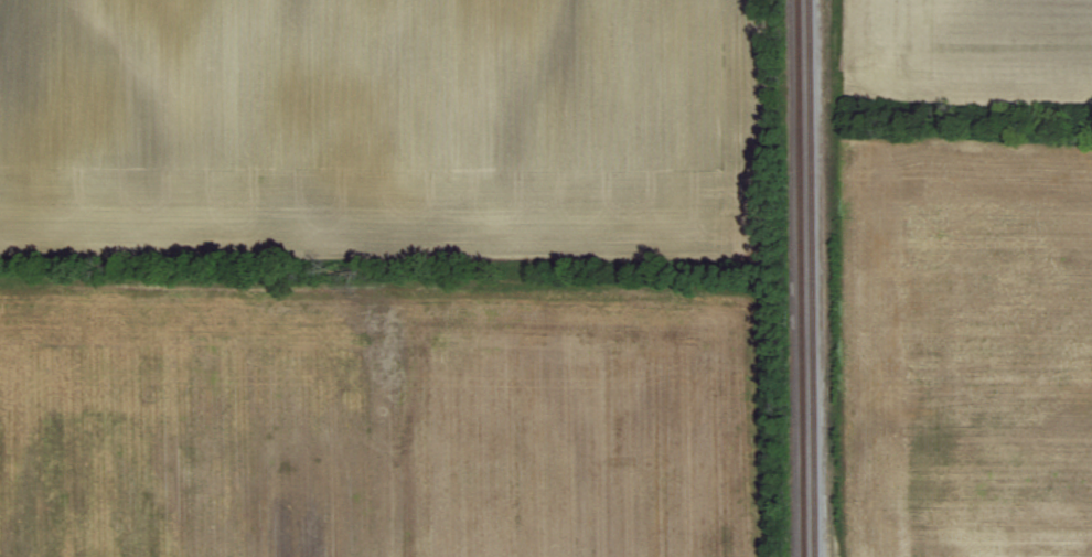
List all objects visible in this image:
railway: (800, 278)
railway: (811, 278)

